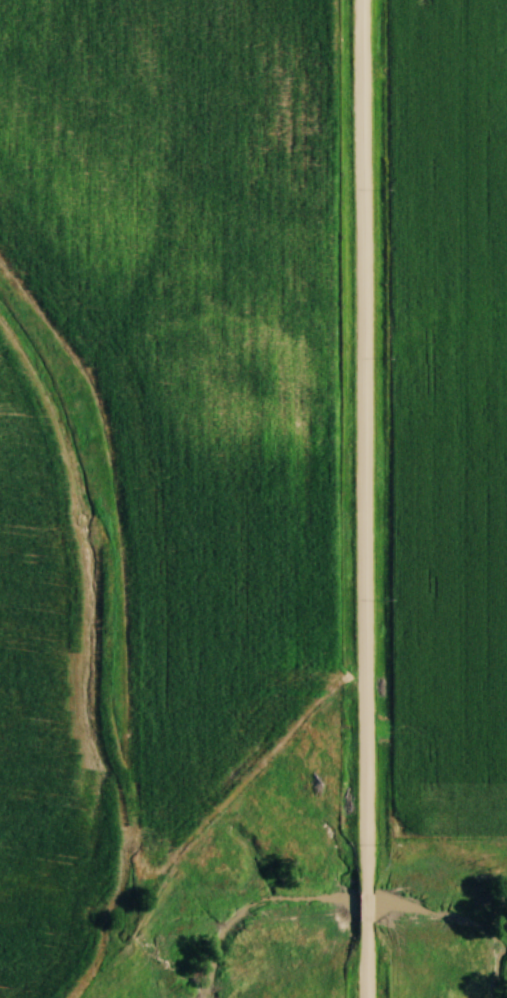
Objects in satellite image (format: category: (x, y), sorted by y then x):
road: (369, 498)
river: (371, 899)
river: (262, 913)
river: (470, 923)

